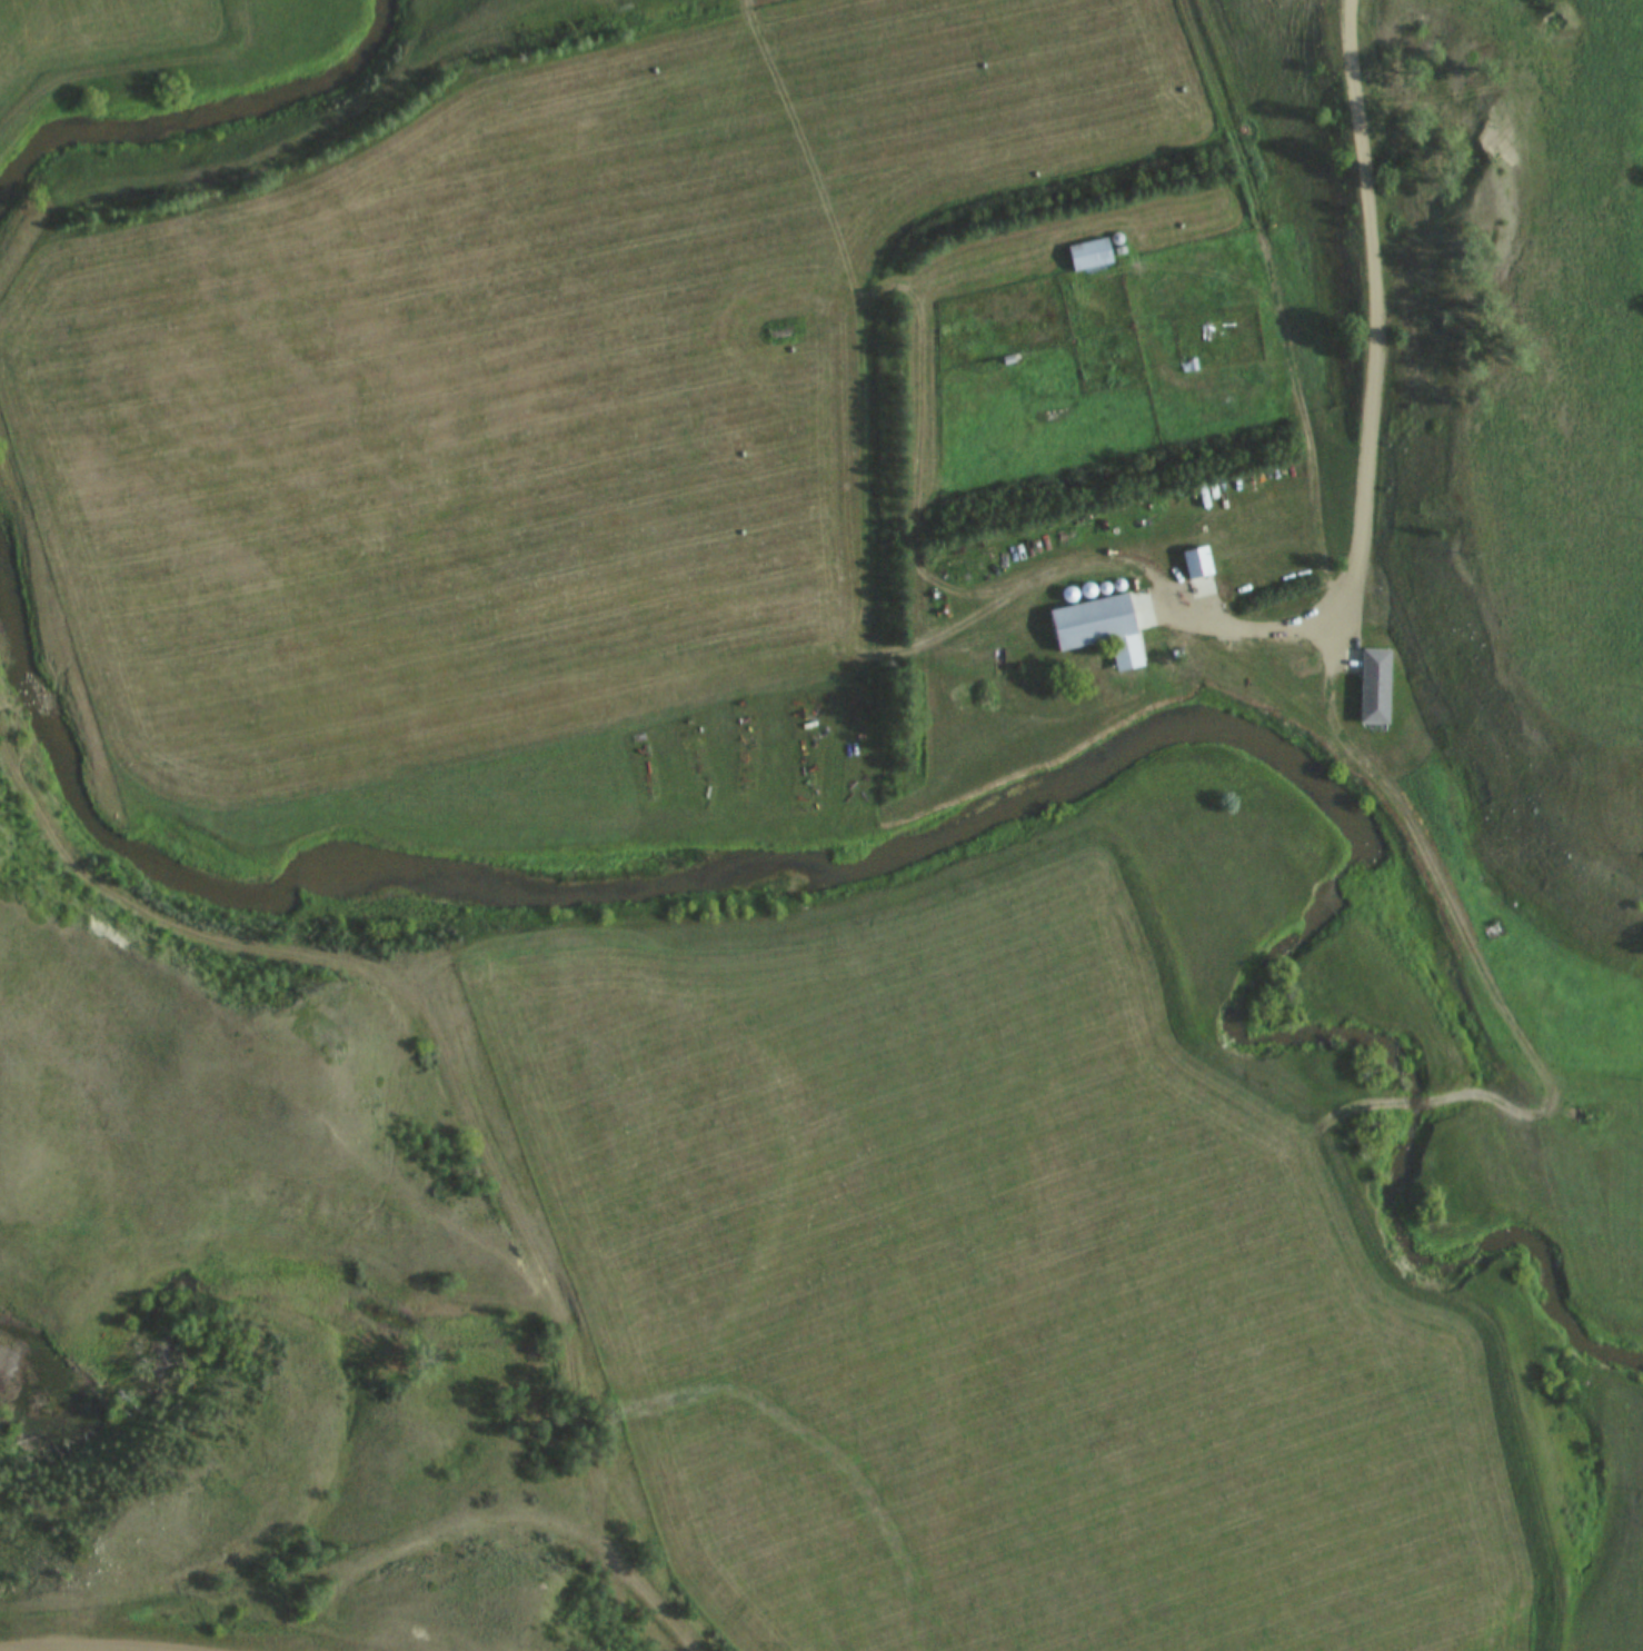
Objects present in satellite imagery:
building: (1088, 256)
building: (1197, 563)
road: (1355, 568)
building: (1096, 623)
building: (1153, 649)
building: (1375, 687)
building: (1492, 931)
road: (1544, 1096)

